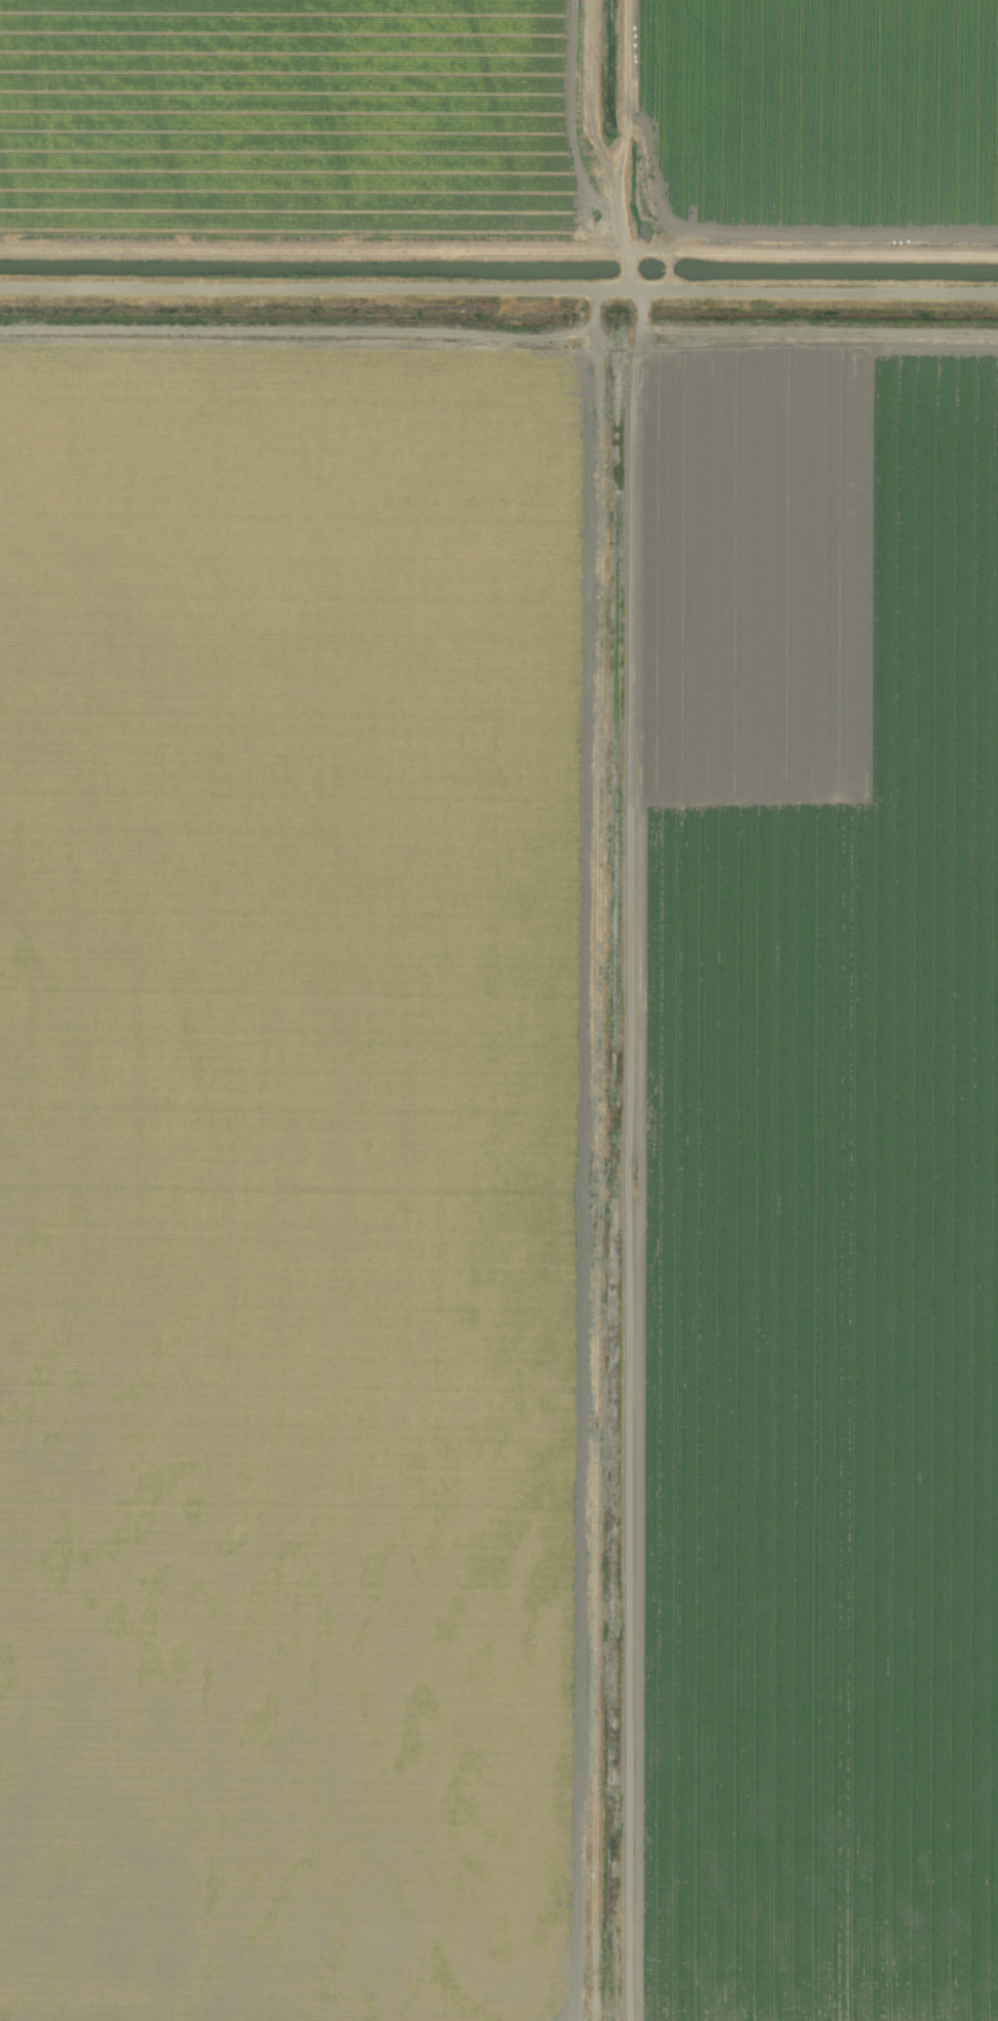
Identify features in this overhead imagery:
road: (499, 316)

